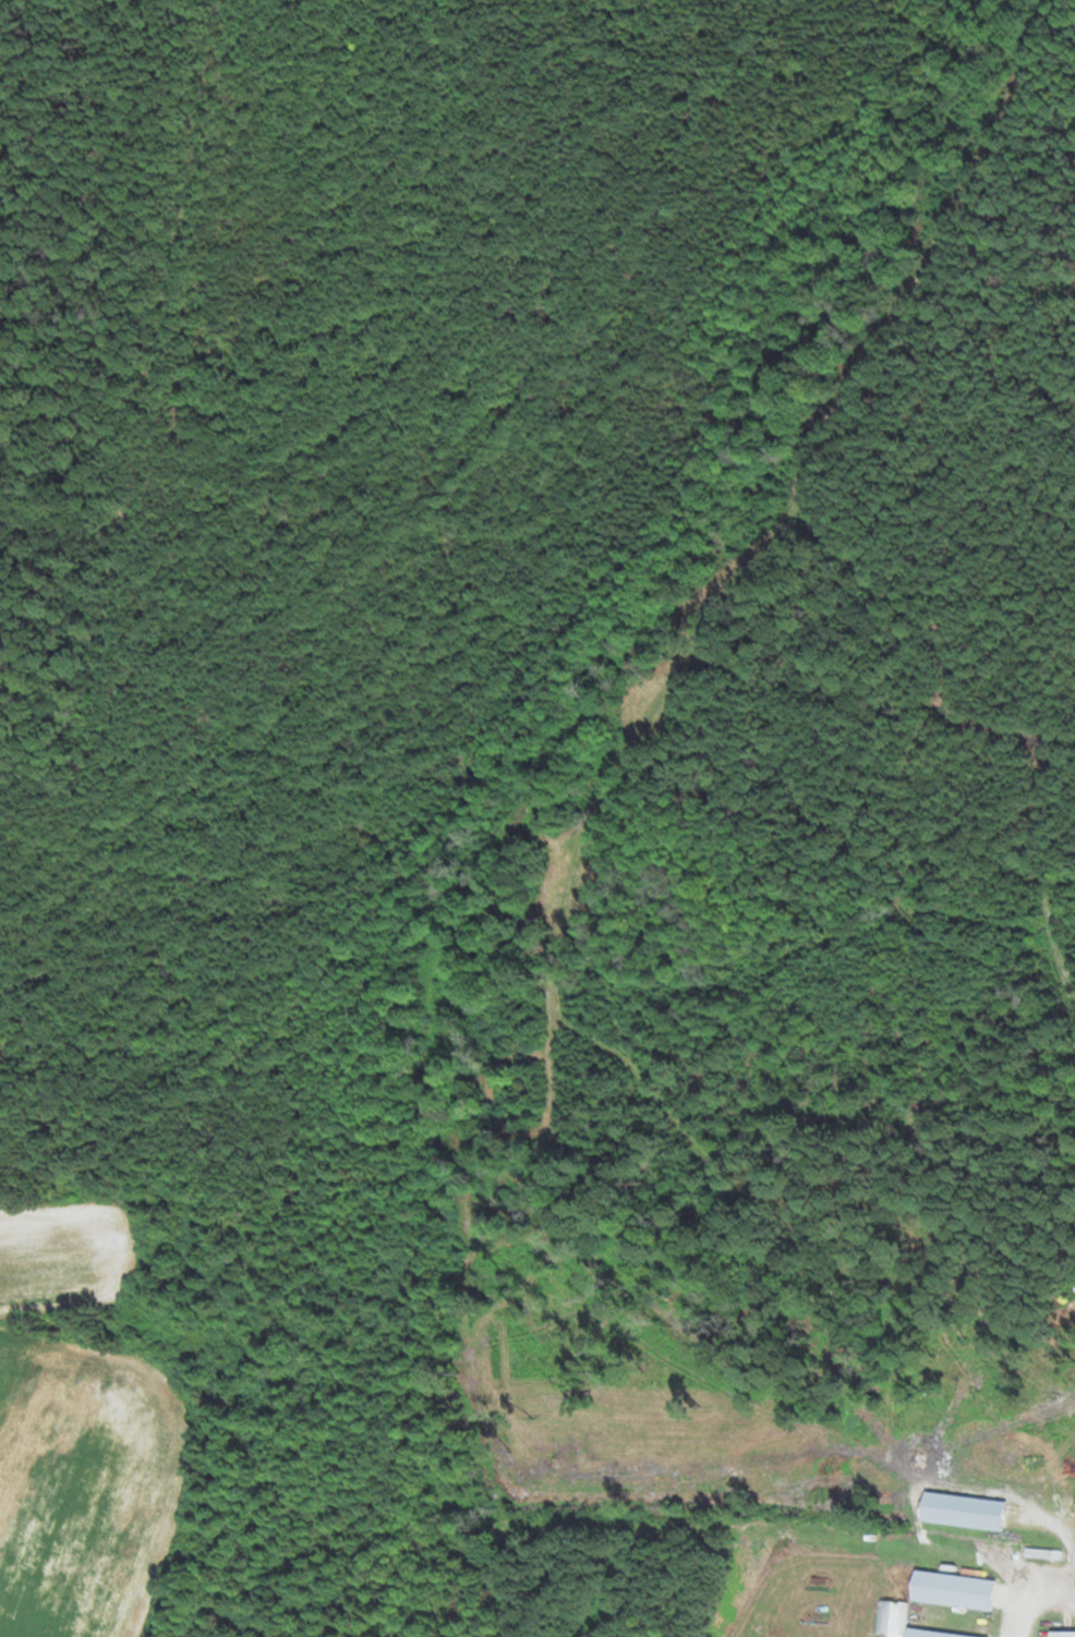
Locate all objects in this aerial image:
building: (959, 1511)
building: (950, 1591)
building: (895, 1622)
building: (1060, 1635)

